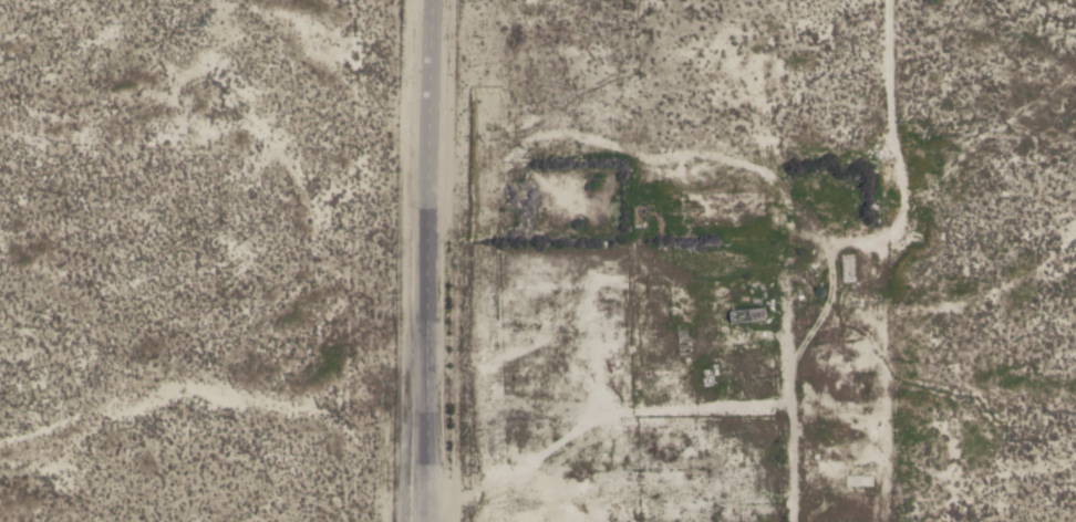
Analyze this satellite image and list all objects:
road: (421, 261)

